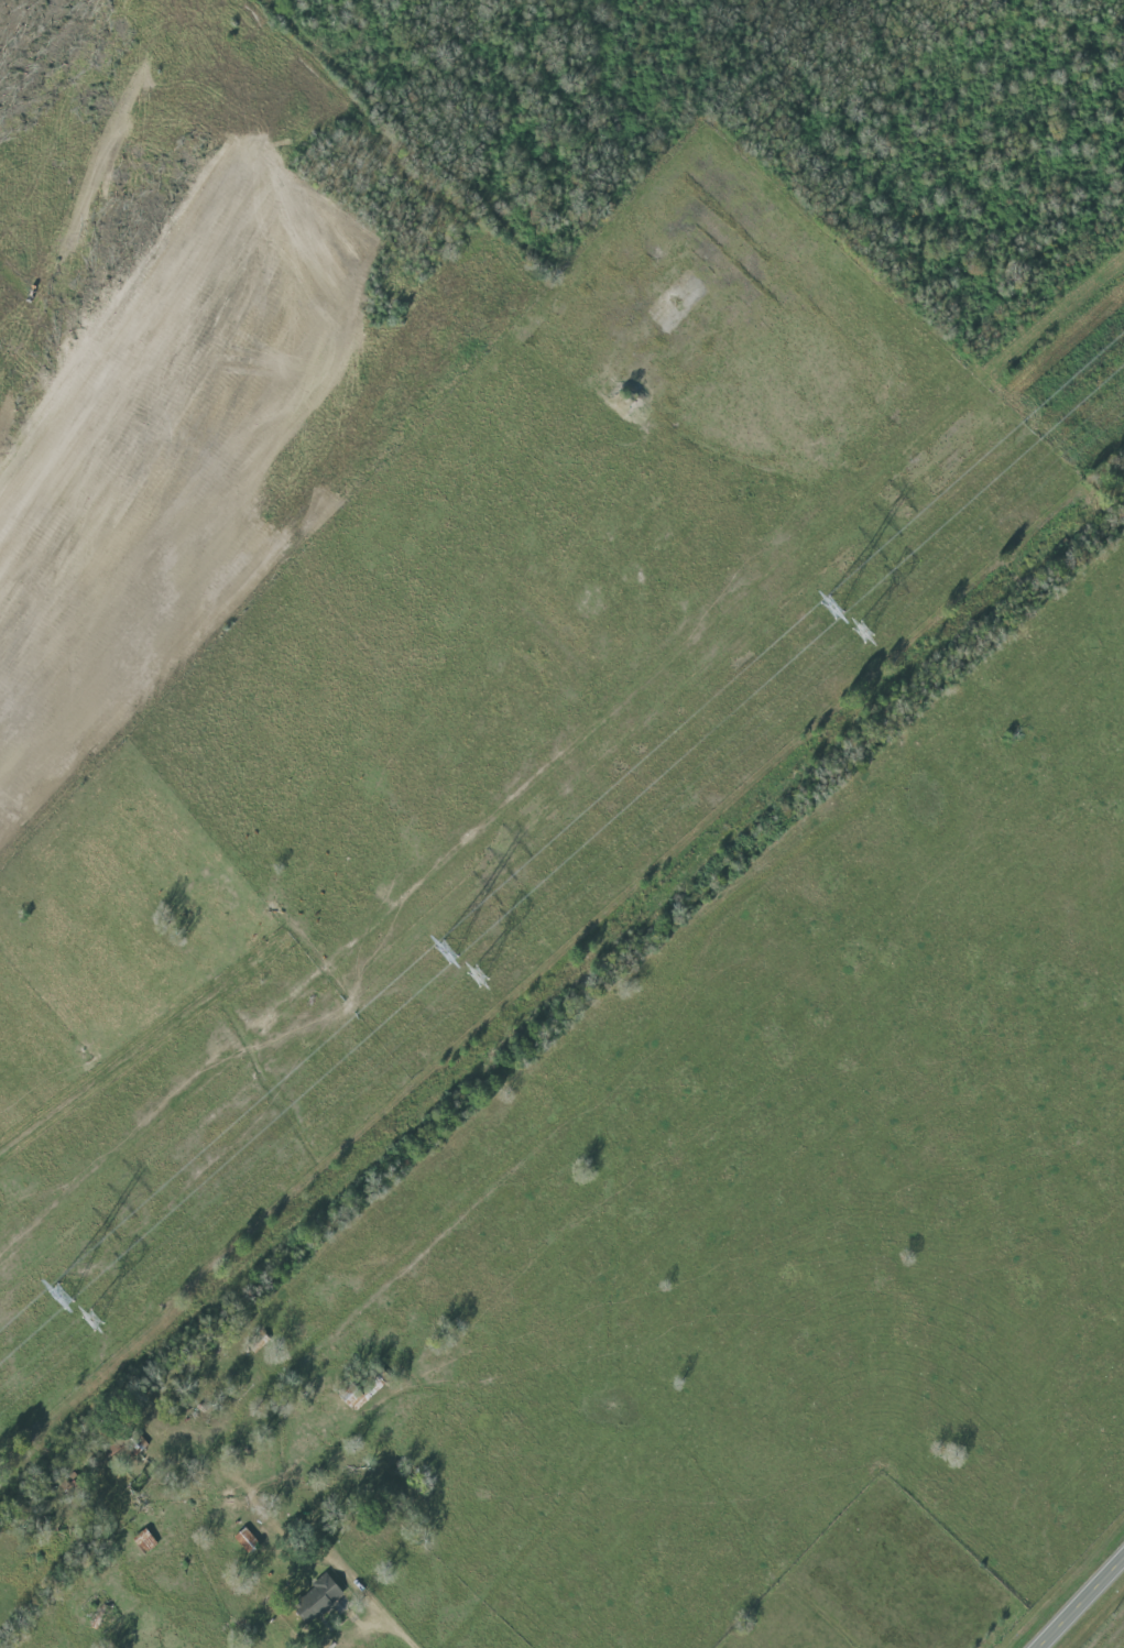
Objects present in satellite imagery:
power tower: (829, 609)
power tower: (858, 634)
power tower: (447, 953)
power tower: (477, 976)
railway: (558, 981)
road: (97, 1090)
power tower: (59, 1297)
power tower: (89, 1321)
building: (248, 1540)
building: (320, 1598)
road: (1080, 1601)
road: (410, 1636)

